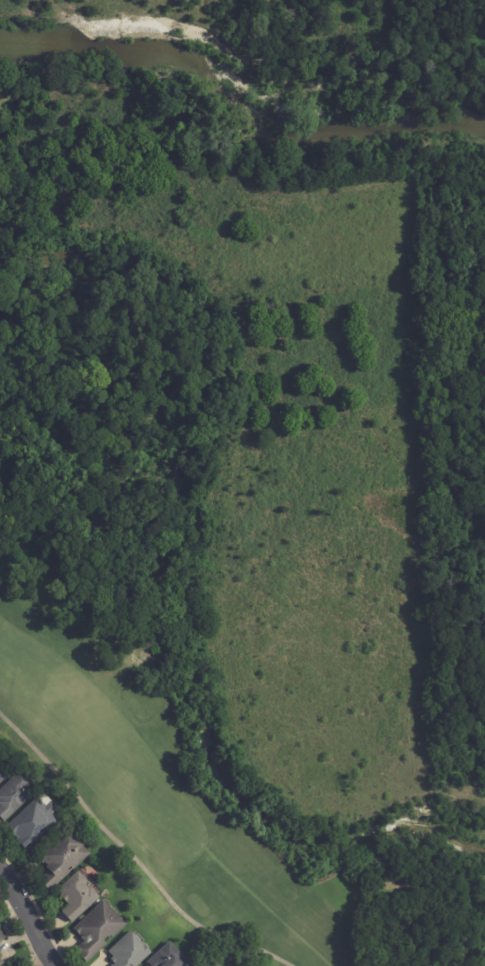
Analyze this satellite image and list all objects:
building: (5, 773)
building: (15, 796)
park: (156, 812)
building: (35, 821)
building: (63, 858)
building: (80, 897)
road: (30, 916)
building: (100, 931)
building: (2, 938)
building: (130, 951)
building: (168, 958)
building: (1, 961)
building: (212, 963)
building: (217, 964)

